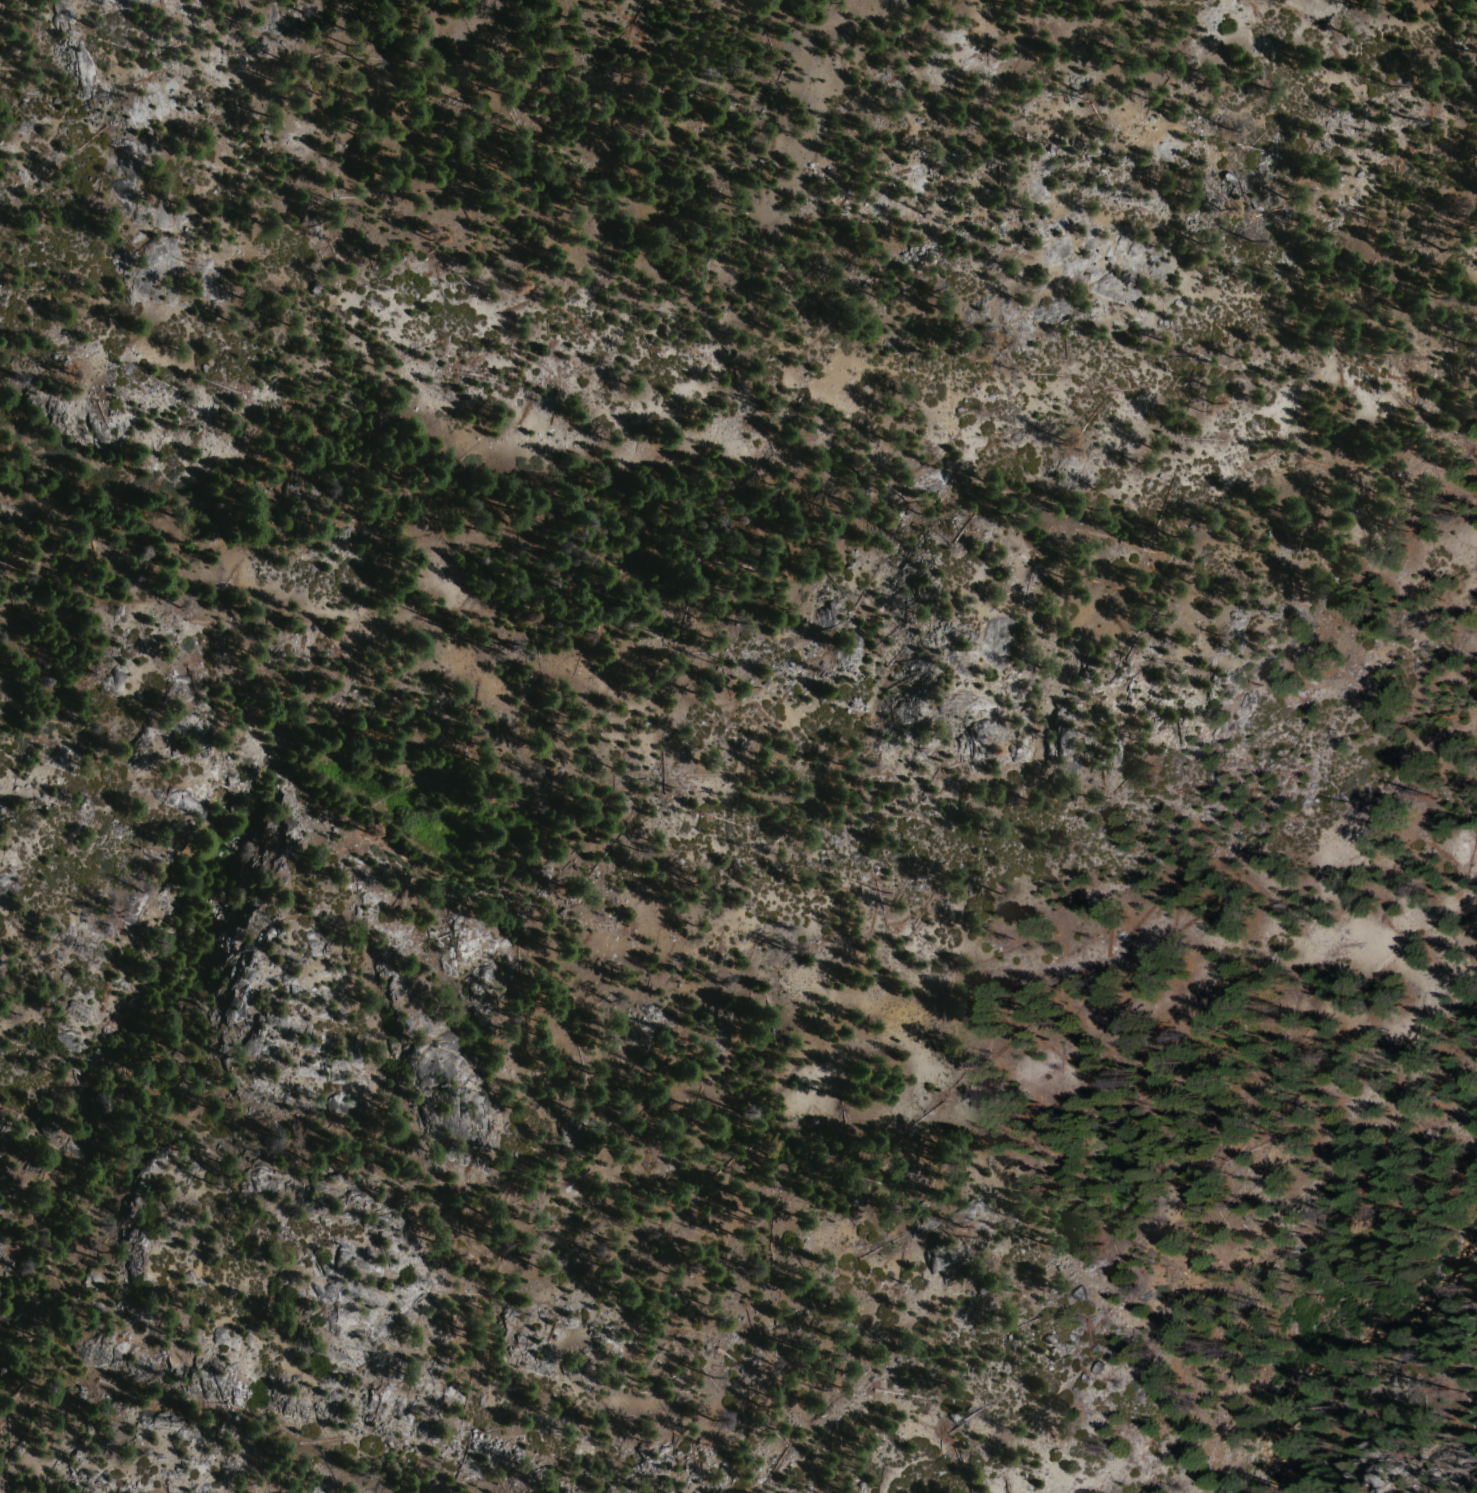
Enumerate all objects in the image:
road: (1187, 1196)

